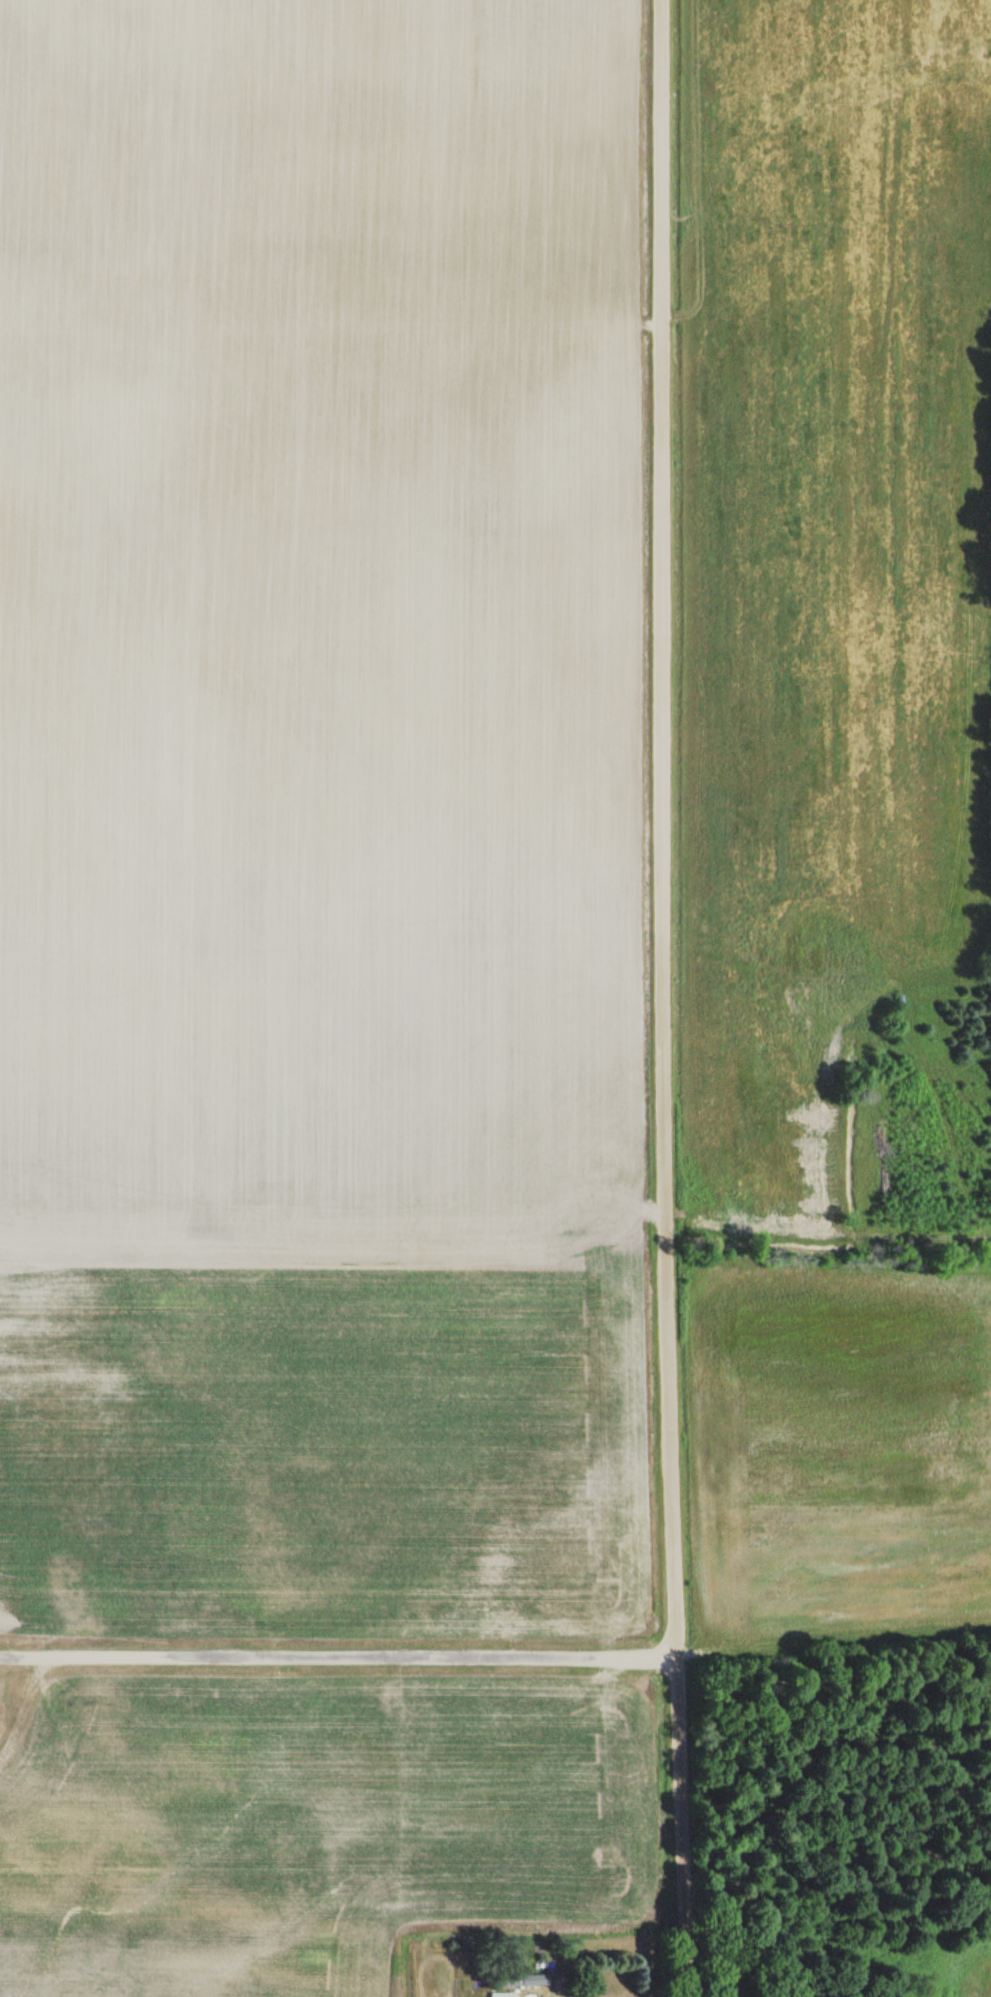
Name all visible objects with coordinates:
road: (665, 998)
building: (534, 1980)
building: (618, 1994)

